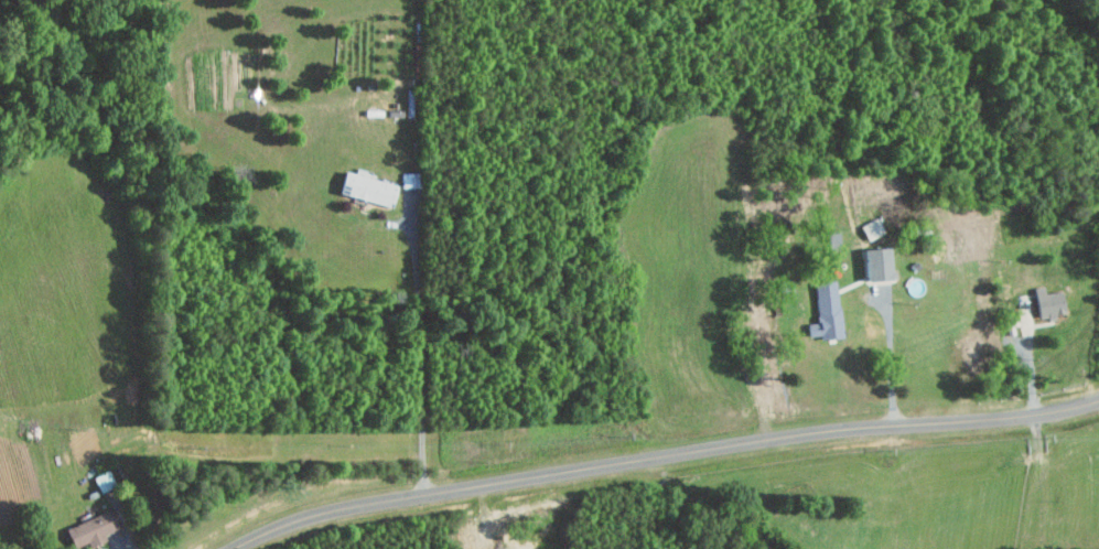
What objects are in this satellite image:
building: (366, 189)
building: (832, 239)
building: (874, 263)
building: (1047, 302)
building: (825, 311)
road: (421, 352)
road: (1030, 362)
road: (893, 363)
road: (661, 456)
building: (87, 529)

